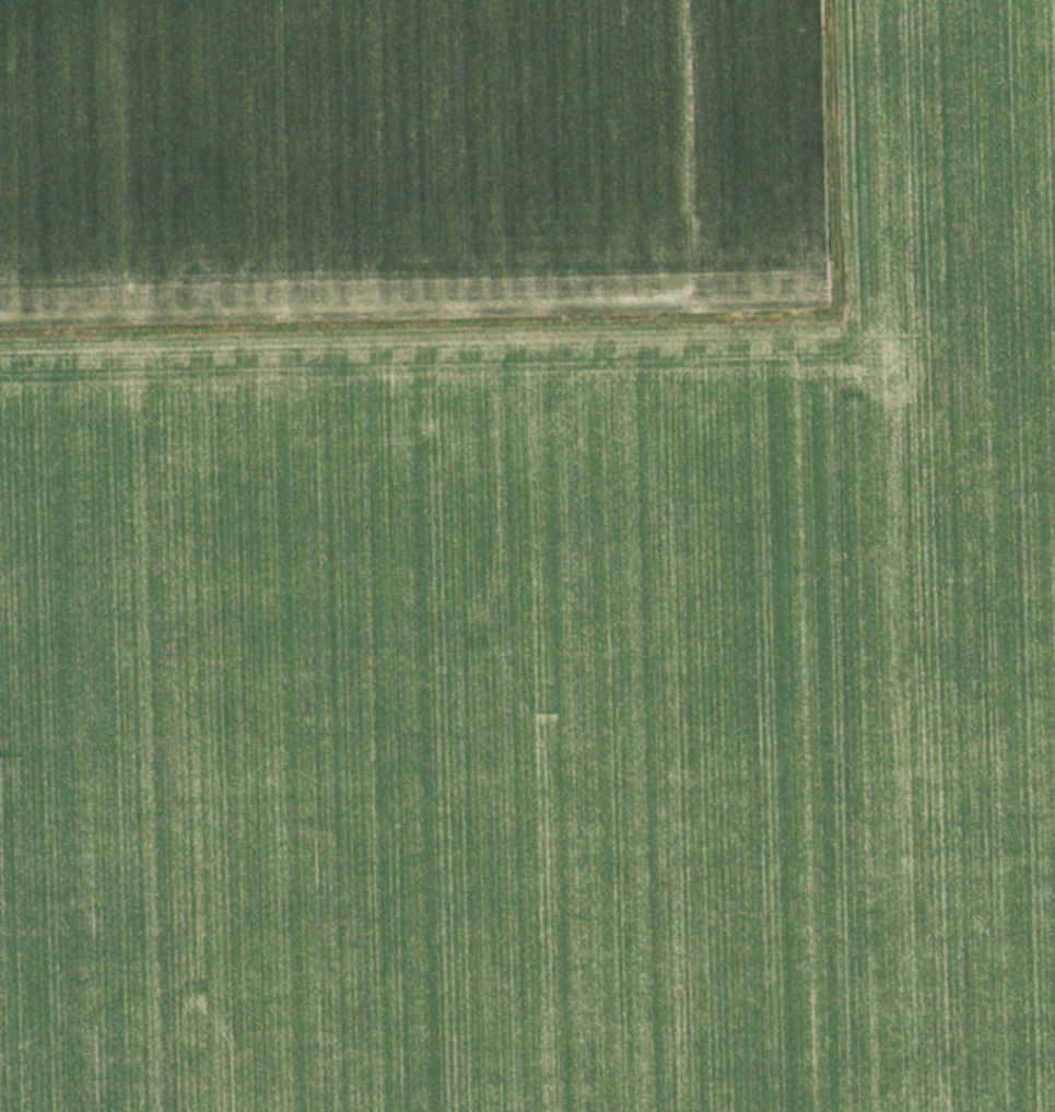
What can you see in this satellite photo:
crop: (527, 555)

